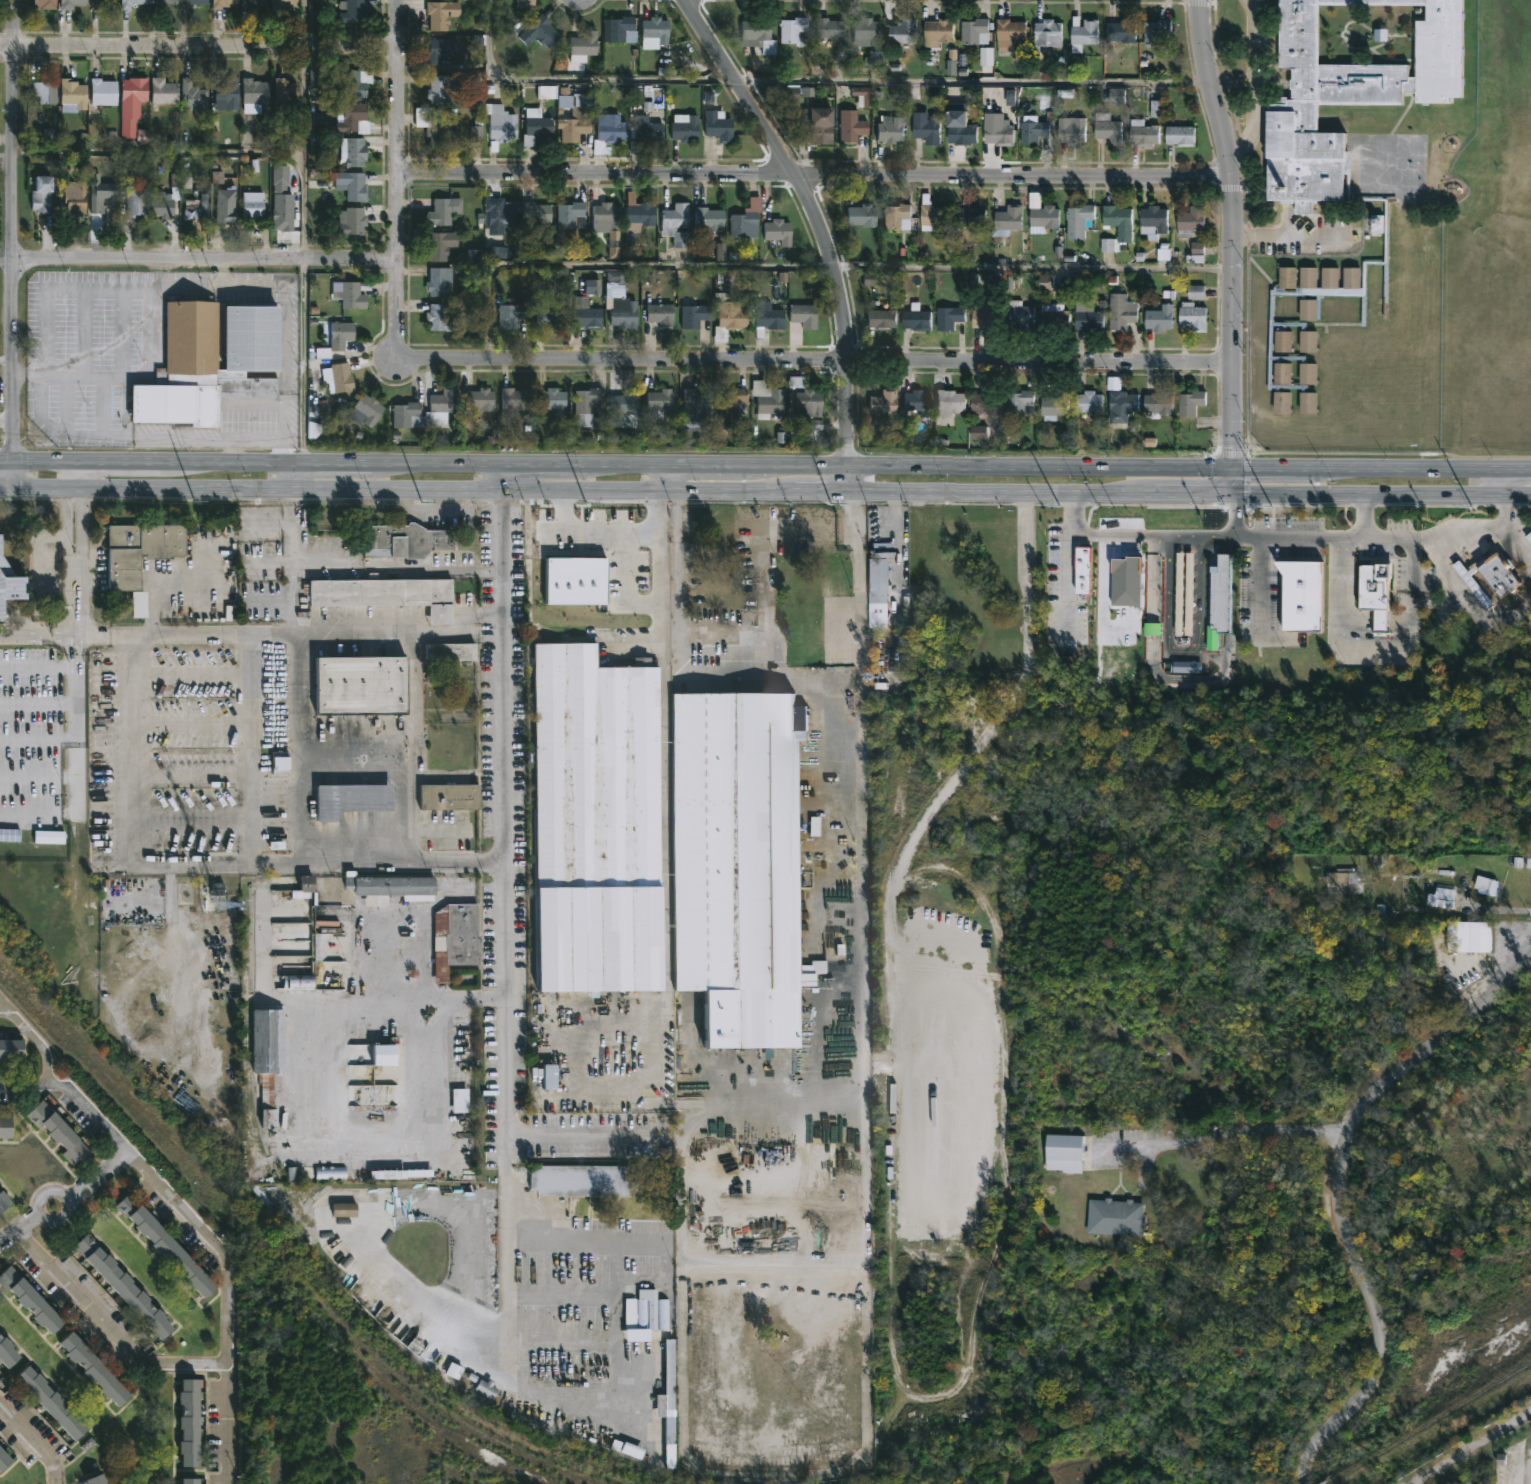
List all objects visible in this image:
building: (166, 2)
building: (197, 2)
building: (256, 2)
building: (46, 3)
building: (103, 3)
building: (133, 3)
building: (225, 3)
building: (527, 3)
building: (72, 4)
building: (286, 4)
building: (356, 11)
building: (441, 14)
building: (789, 29)
building: (622, 30)
building: (937, 30)
building: (1120, 30)
building: (825, 31)
building: (900, 31)
building: (972, 31)
building: (1008, 31)
building: (1156, 31)
building: (542, 32)
building: (657, 32)
building: (863, 32)
building: (1081, 32)
building: (1047, 33)
building: (755, 35)
building: (585, 45)
road: (200, 47)
building: (442, 51)
building: (351, 84)
road: (1253, 84)
road: (810, 86)
building: (442, 89)
building: (48, 91)
building: (257, 91)
building: (105, 92)
building: (165, 92)
building: (229, 94)
building: (74, 96)
building: (195, 96)
building: (285, 96)
building: (133, 104)
building: (576, 115)
building: (355, 117)
building: (503, 122)
building: (438, 124)
building: (720, 126)
building: (814, 126)
building: (539, 127)
building: (687, 127)
building: (848, 127)
building: (613, 128)
building: (924, 128)
building: (1106, 128)
building: (649, 129)
building: (887, 129)
building: (1035, 129)
building: (1071, 129)
building: (961, 133)
building: (1142, 133)
building: (998, 134)
building: (1178, 134)
building: (1335, 150)
building: (357, 152)
road: (306, 157)
road: (207, 158)
road: (790, 169)
road: (813, 174)
road: (399, 182)
building: (354, 186)
building: (44, 194)
building: (75, 197)
building: (101, 197)
building: (167, 199)
building: (138, 201)
building: (284, 201)
building: (224, 207)
building: (255, 207)
building: (445, 211)
building: (538, 213)
building: (192, 214)
building: (931, 214)
building: (502, 215)
building: (573, 215)
building: (643, 215)
building: (859, 216)
building: (895, 217)
building: (969, 217)
building: (1042, 218)
building: (1006, 219)
building: (1152, 219)
building: (609, 220)
building: (710, 220)
building: (1078, 220)
building: (1189, 220)
building: (353, 221)
building: (679, 225)
building: (747, 226)
building: (780, 231)
building: (1123, 233)
road: (1288, 233)
parking lot: (1304, 234)
road: (1229, 242)
road: (13, 243)
building: (439, 247)
road: (199, 264)
road: (817, 266)
building: (439, 283)
road: (81, 287)
park: (1454, 289)
building: (1375, 290)
building: (355, 294)
building: (1284, 310)
building: (1120, 311)
building: (513, 313)
building: (626, 313)
building: (588, 314)
building: (1053, 315)
building: (661, 316)
building: (696, 316)
building: (806, 316)
building: (980, 316)
building: (1016, 316)
building: (1191, 316)
building: (947, 317)
building: (1085, 317)
building: (1158, 317)
building: (440, 318)
building: (553, 318)
building: (879, 318)
building: (914, 318)
building: (769, 319)
building: (731, 320)
building: (337, 340)
road: (822, 359)
road: (302, 362)
building: (212, 363)
building: (344, 378)
building: (481, 401)
building: (516, 401)
building: (556, 401)
building: (589, 401)
building: (734, 401)
building: (1120, 401)
building: (628, 402)
building: (770, 402)
building: (947, 402)
building: (981, 402)
building: (1088, 402)
building: (1157, 402)
building: (1189, 402)
building: (663, 403)
building: (881, 403)
building: (915, 403)
building: (1019, 403)
building: (806, 404)
building: (1053, 404)
building: (443, 406)
building: (698, 406)
building: (369, 410)
building: (409, 416)
road: (850, 423)
road: (765, 462)
road: (74, 473)
road: (294, 474)
road: (670, 474)
road: (1511, 479)
road: (765, 487)
road: (674, 494)
power tower: (194, 501)
road: (762, 502)
power tower: (421, 503)
power tower: (585, 503)
road: (1499, 505)
road: (1232, 512)
road: (853, 516)
road: (678, 519)
building: (575, 527)
road: (1435, 527)
road: (1178, 536)
building: (1528, 536)
road: (1348, 538)
road: (1362, 538)
building: (406, 540)
road: (1515, 542)
building: (139, 550)
road: (398, 566)
road: (662, 568)
road: (75, 575)
building: (1488, 575)
building: (9, 582)
road: (1066, 584)
road: (1111, 585)
road: (1259, 585)
building: (1180, 592)
building: (384, 593)
building: (875, 593)
building: (1298, 593)
building: (1372, 595)
building: (1217, 601)
road: (1470, 601)
building: (141, 603)
road: (252, 635)
road: (1337, 640)
road: (1181, 647)
building: (449, 651)
road: (38, 665)
road: (803, 681)
building: (359, 684)
road: (249, 748)
building: (277, 763)
road: (400, 774)
road: (76, 775)
road: (293, 775)
building: (450, 796)
building: (352, 799)
road: (412, 817)
building: (595, 822)
road: (138, 828)
building: (10, 834)
building: (50, 837)
building: (736, 863)
road: (507, 873)
building: (1343, 880)
road: (662, 883)
building: (391, 887)
building: (304, 888)
building: (1494, 889)
building: (1441, 897)
building: (1471, 936)
road: (861, 944)
building: (455, 945)
building: (297, 982)
road: (414, 998)
road: (3, 1008)
road: (35, 1038)
building: (11, 1049)
building: (386, 1056)
building: (266, 1058)
building: (552, 1077)
road: (77, 1092)
building: (6, 1127)
building: (60, 1133)
road: (1232, 1134)
building: (1062, 1153)
building: (324, 1173)
road: (98, 1176)
building: (582, 1181)
road: (1332, 1197)
building: (4, 1201)
building: (347, 1210)
road: (38, 1212)
building: (1113, 1216)
road: (19, 1230)
railway: (1523, 1242)
building: (167, 1246)
road: (508, 1249)
railway: (1502, 1249)
railway: (268, 1251)
railway: (1460, 1261)
building: (125, 1287)
road: (228, 1299)
building: (32, 1301)
building: (635, 1314)
road: (109, 1327)
building: (8, 1354)
building: (672, 1367)
building: (97, 1371)
railway: (1504, 1374)
railway: (1165, 1389)
building: (53, 1405)
building: (193, 1421)
railway: (1429, 1423)
road: (36, 1438)
building: (628, 1451)
building: (4, 1458)
building: (98, 1479)
building: (193, 1480)
railway: (1327, 1483)

